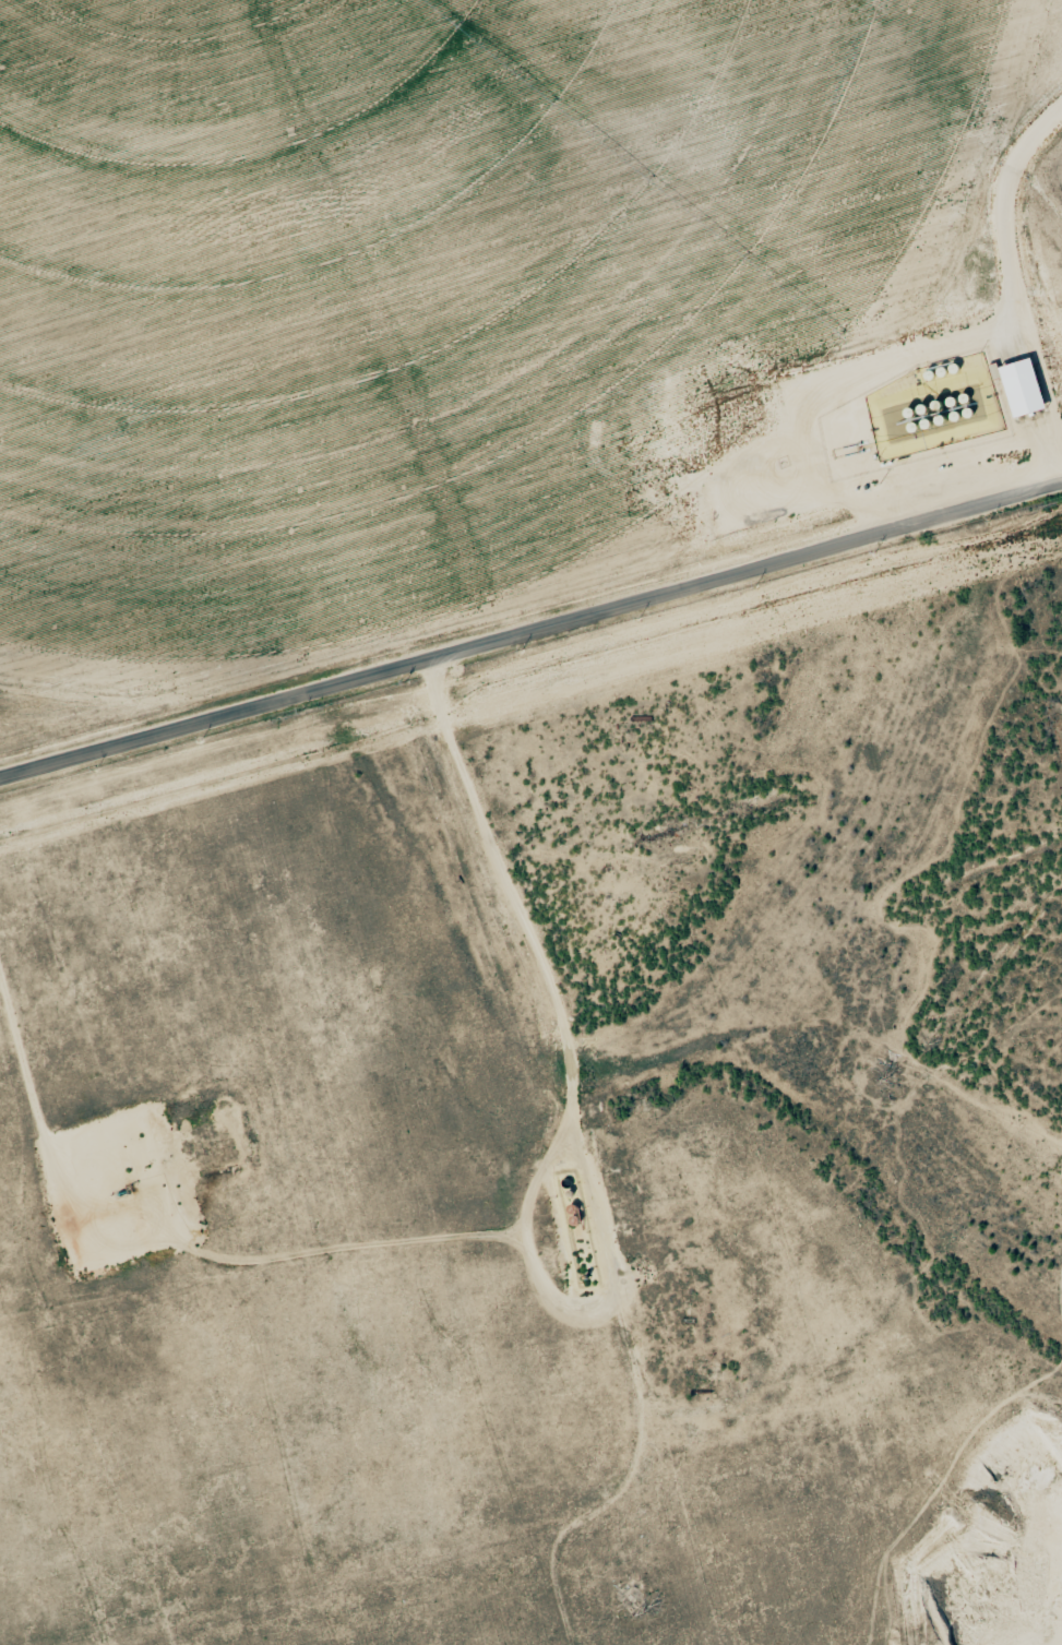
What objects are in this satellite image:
river: (1006, 90)
road: (1009, 282)
road: (285, 379)
building: (1017, 390)
road: (530, 622)
river: (903, 917)
petroleum well: (128, 1187)

